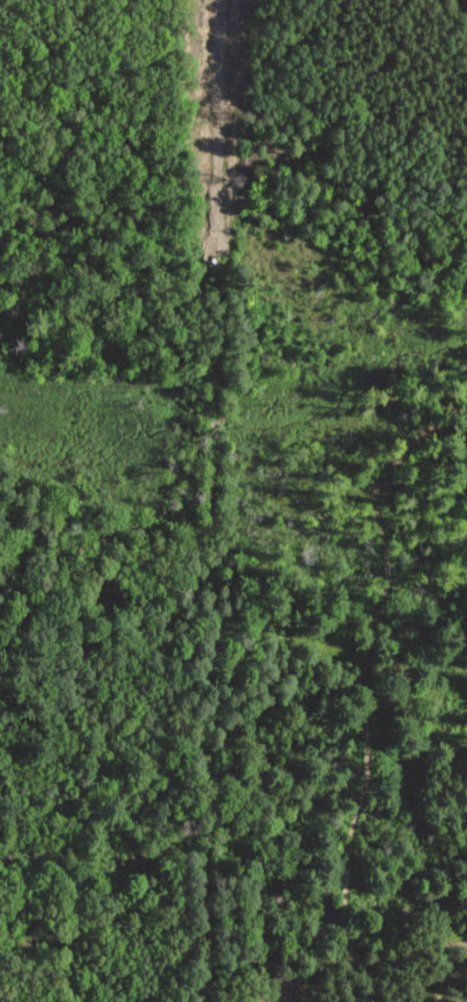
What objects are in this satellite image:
road: (441, 971)

